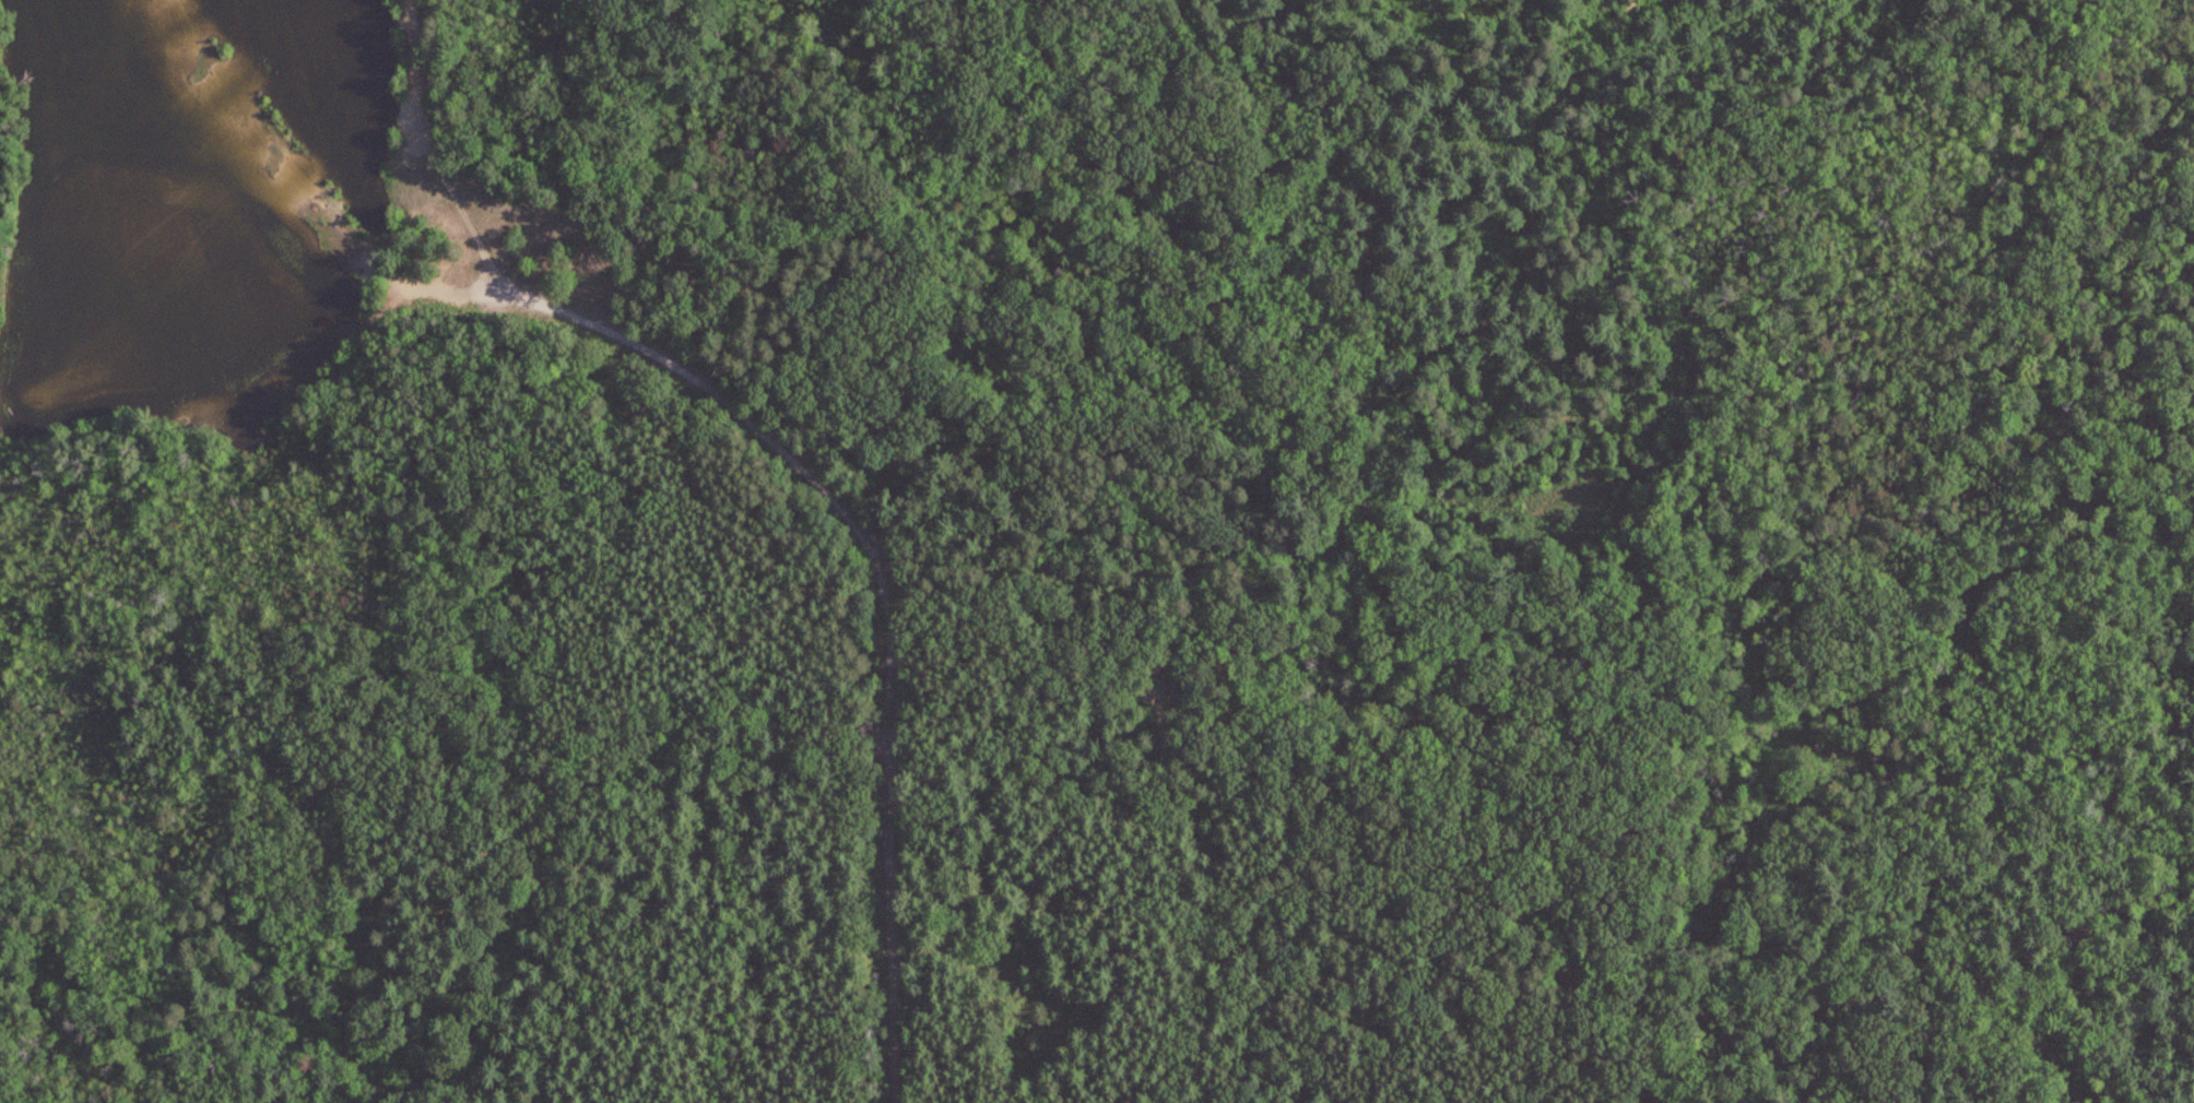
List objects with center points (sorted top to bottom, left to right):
road: (886, 589)

